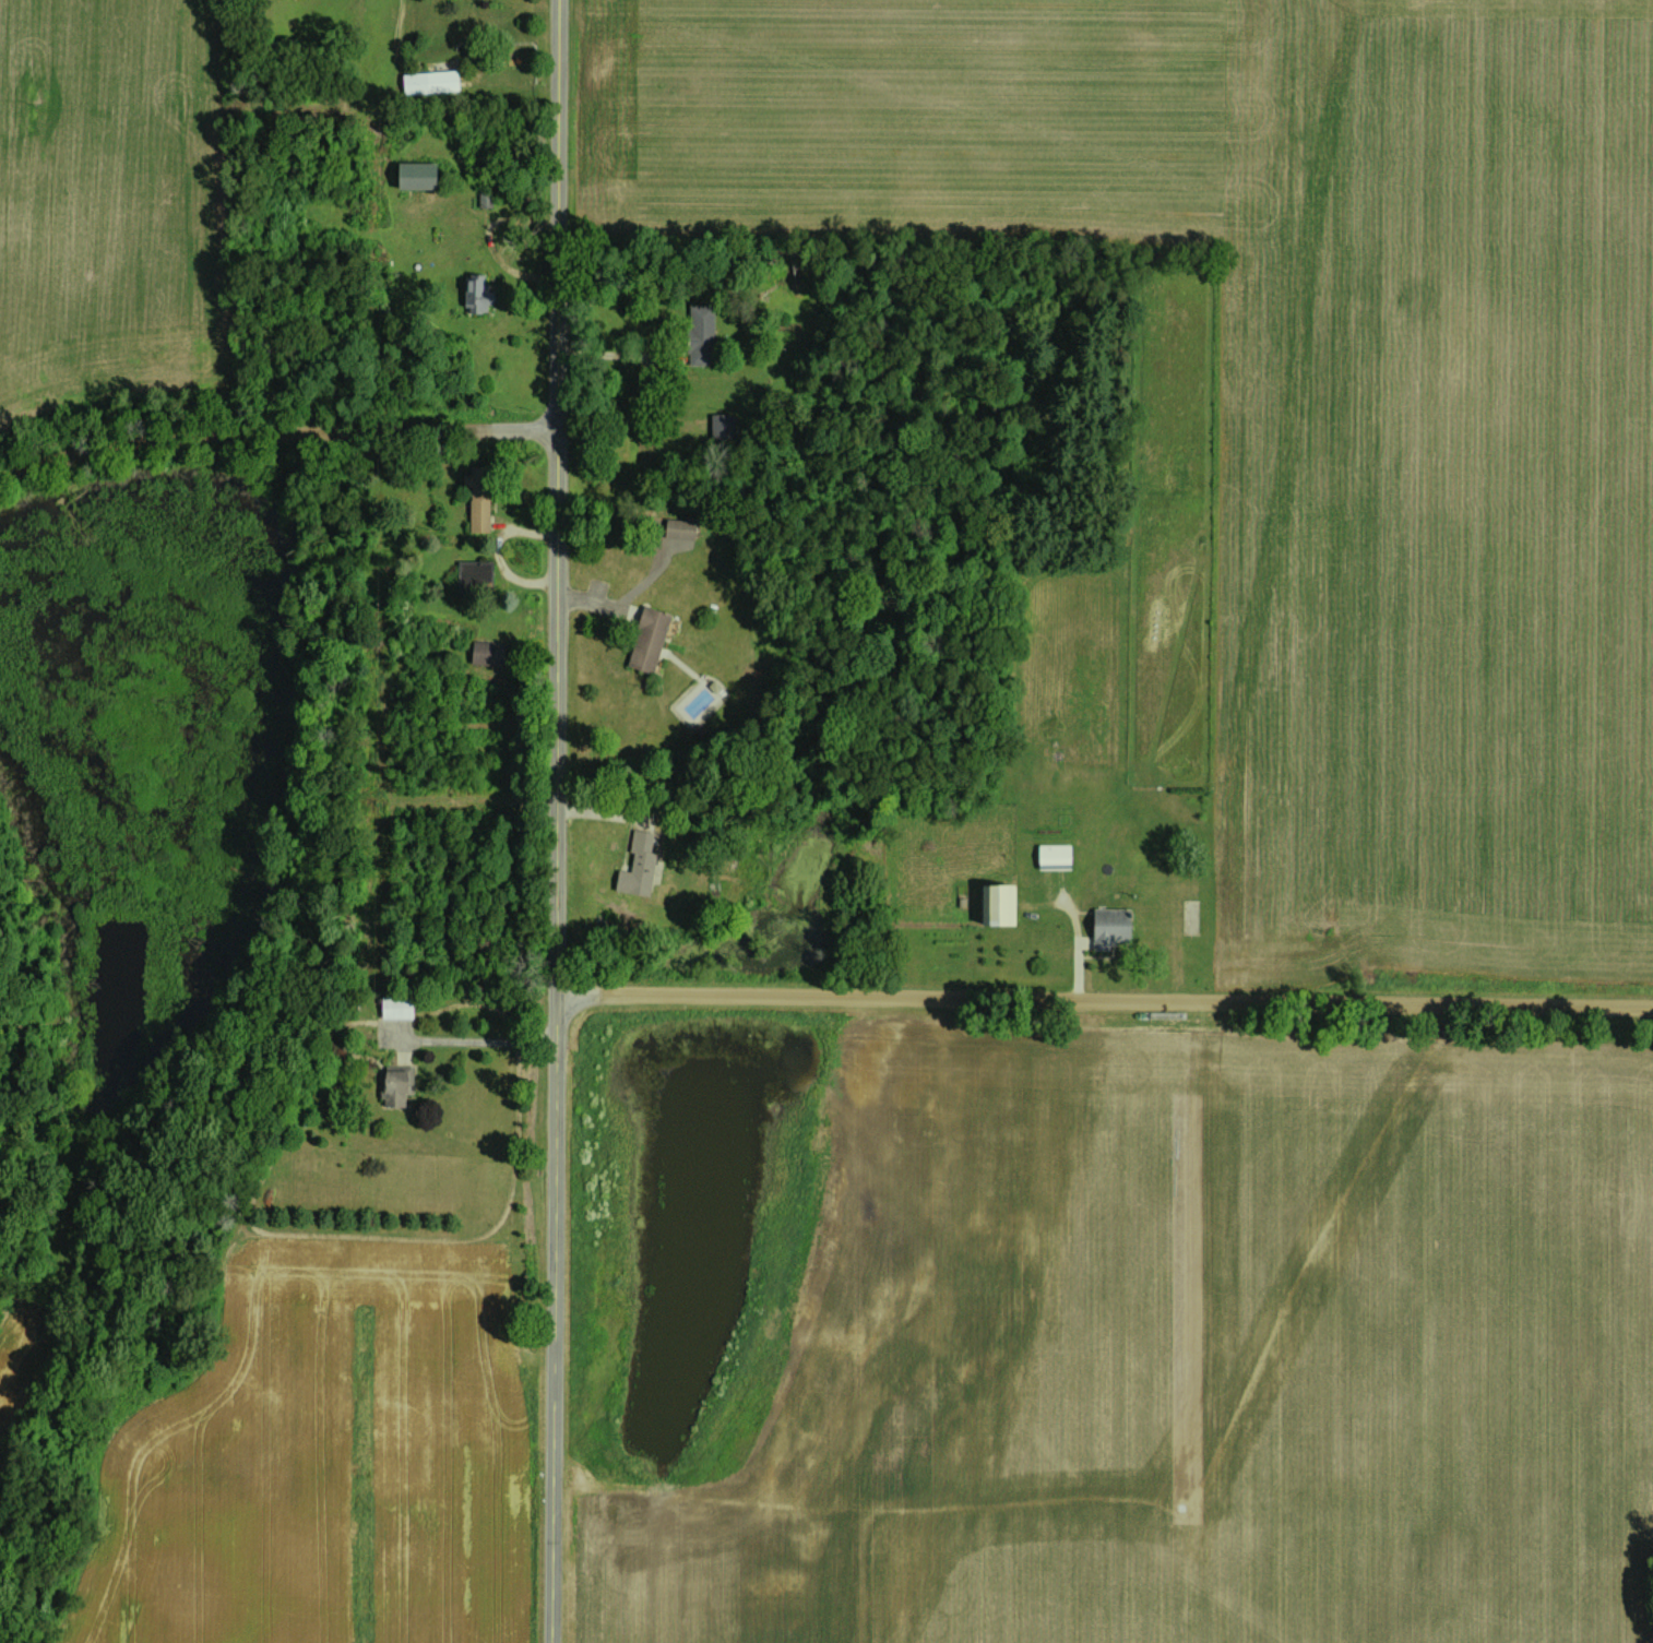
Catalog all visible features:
building: (429, 81)
building: (414, 175)
building: (700, 334)
road: (621, 355)
building: (721, 426)
road: (276, 428)
building: (477, 497)
building: (678, 526)
building: (474, 575)
building: (646, 639)
building: (486, 653)
road: (554, 821)
building: (1053, 855)
building: (996, 904)
building: (1110, 927)
road: (1104, 995)
building: (395, 1005)
road: (484, 1038)
building: (395, 1084)

